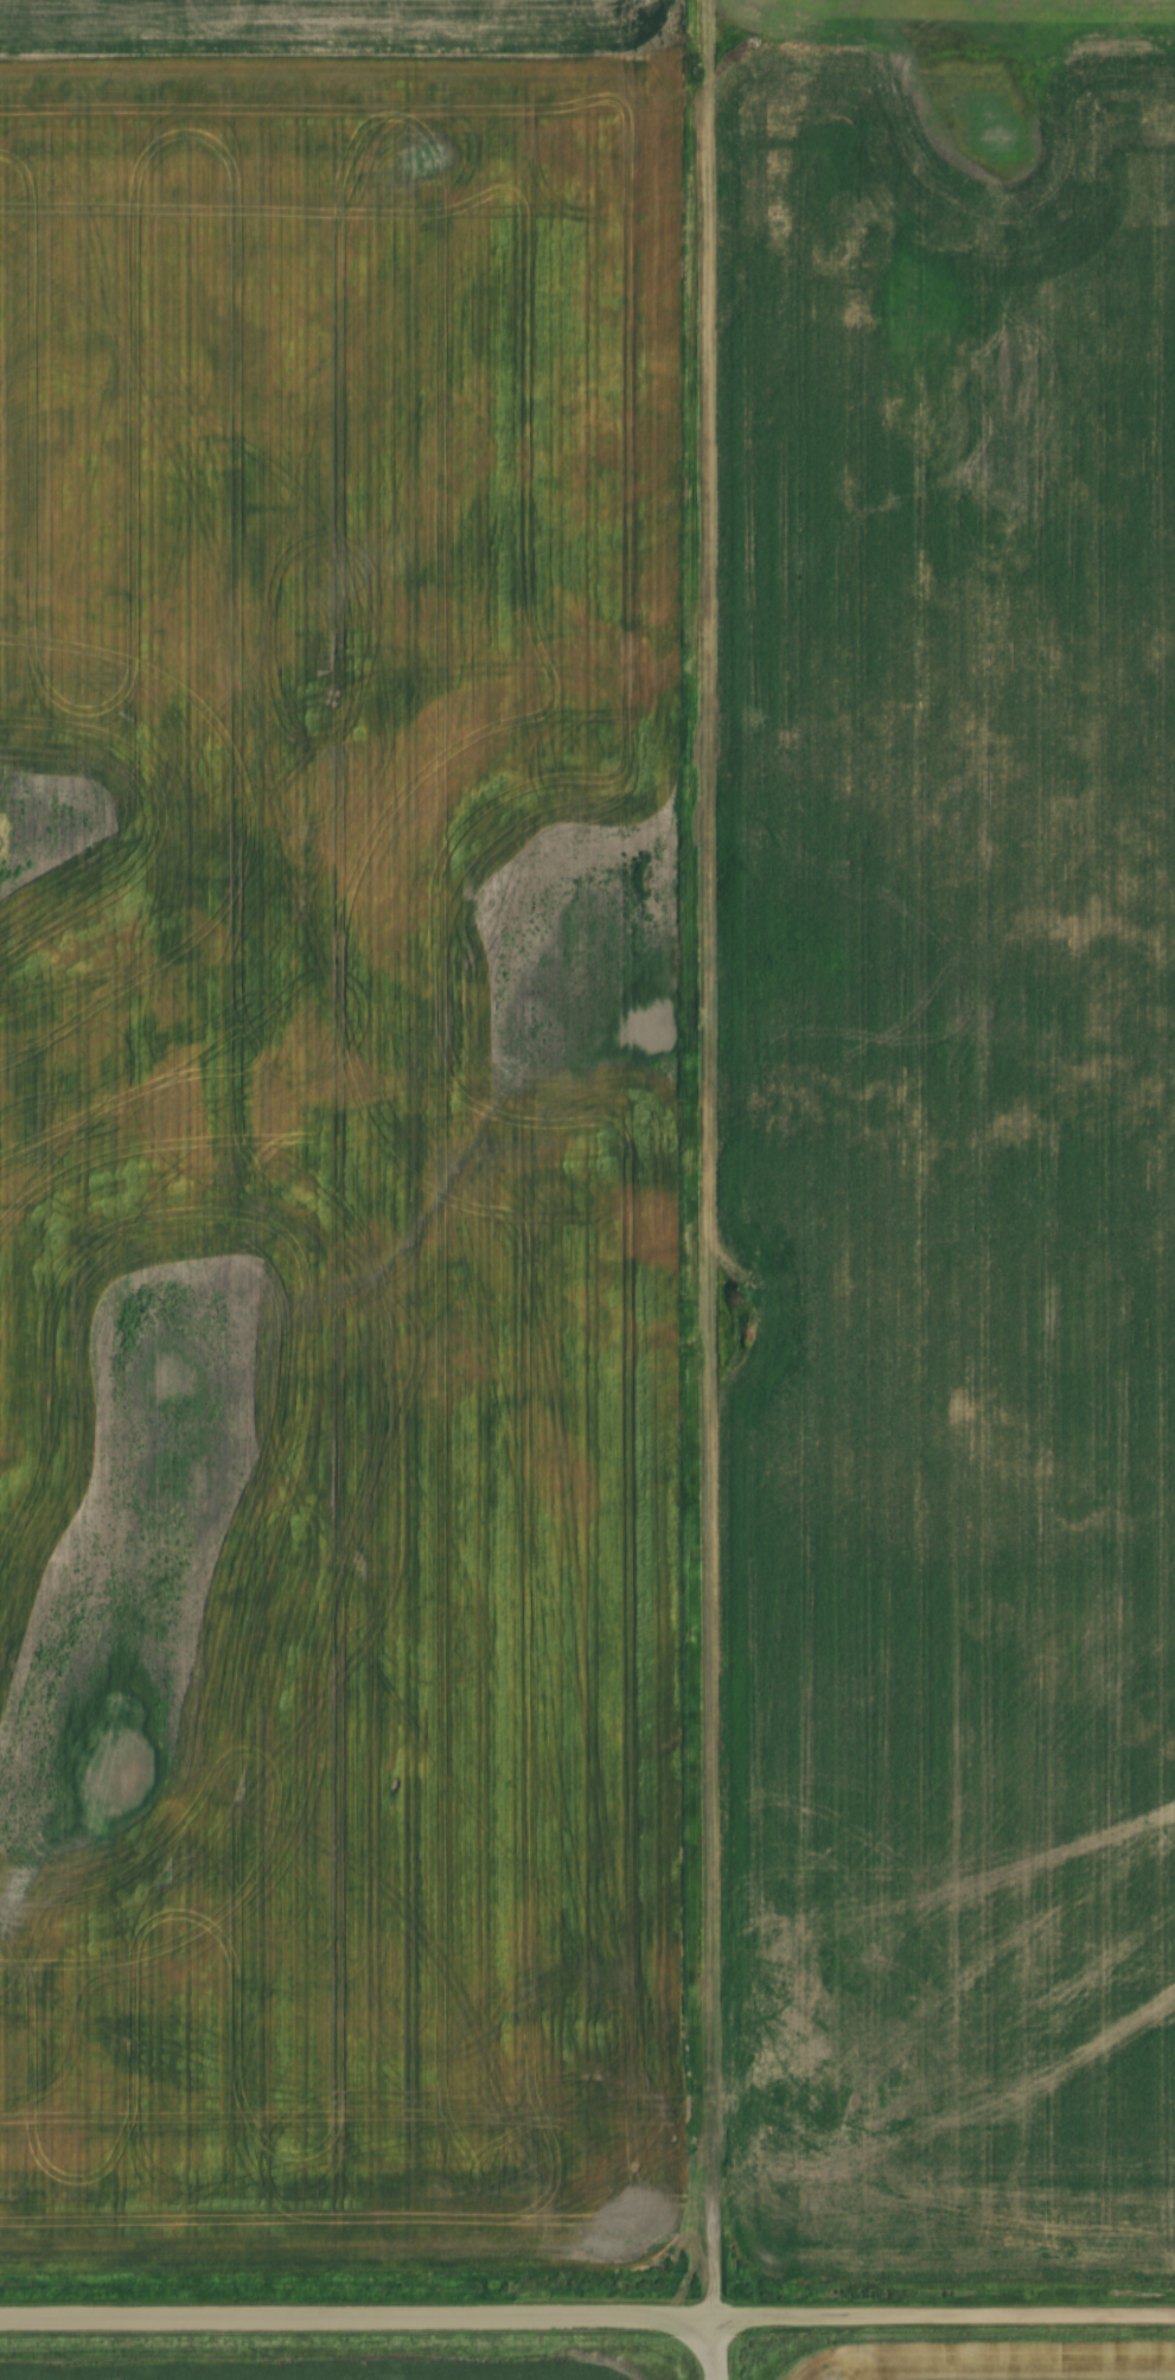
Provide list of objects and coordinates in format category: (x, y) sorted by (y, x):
road: (945, 2318)
road: (358, 2320)
road: (715, 2349)

